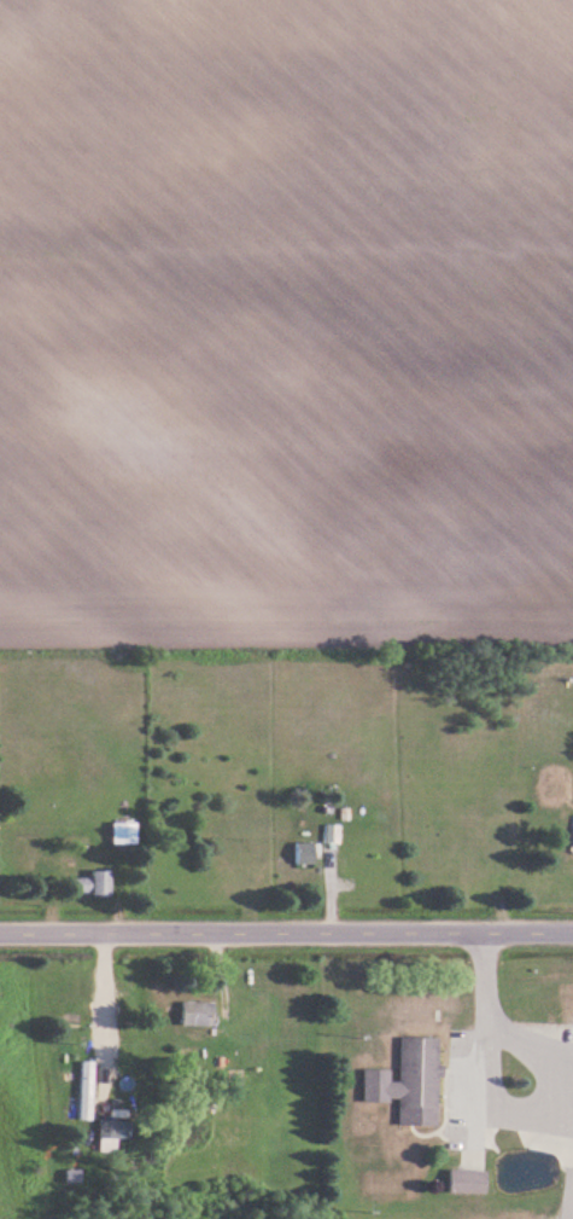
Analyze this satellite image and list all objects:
building: (124, 835)
building: (334, 835)
building: (306, 854)
building: (101, 884)
building: (82, 887)
road: (286, 933)
building: (569, 1005)
building: (199, 1014)
building: (411, 1082)
building: (88, 1091)
building: (110, 1130)
building: (468, 1182)

